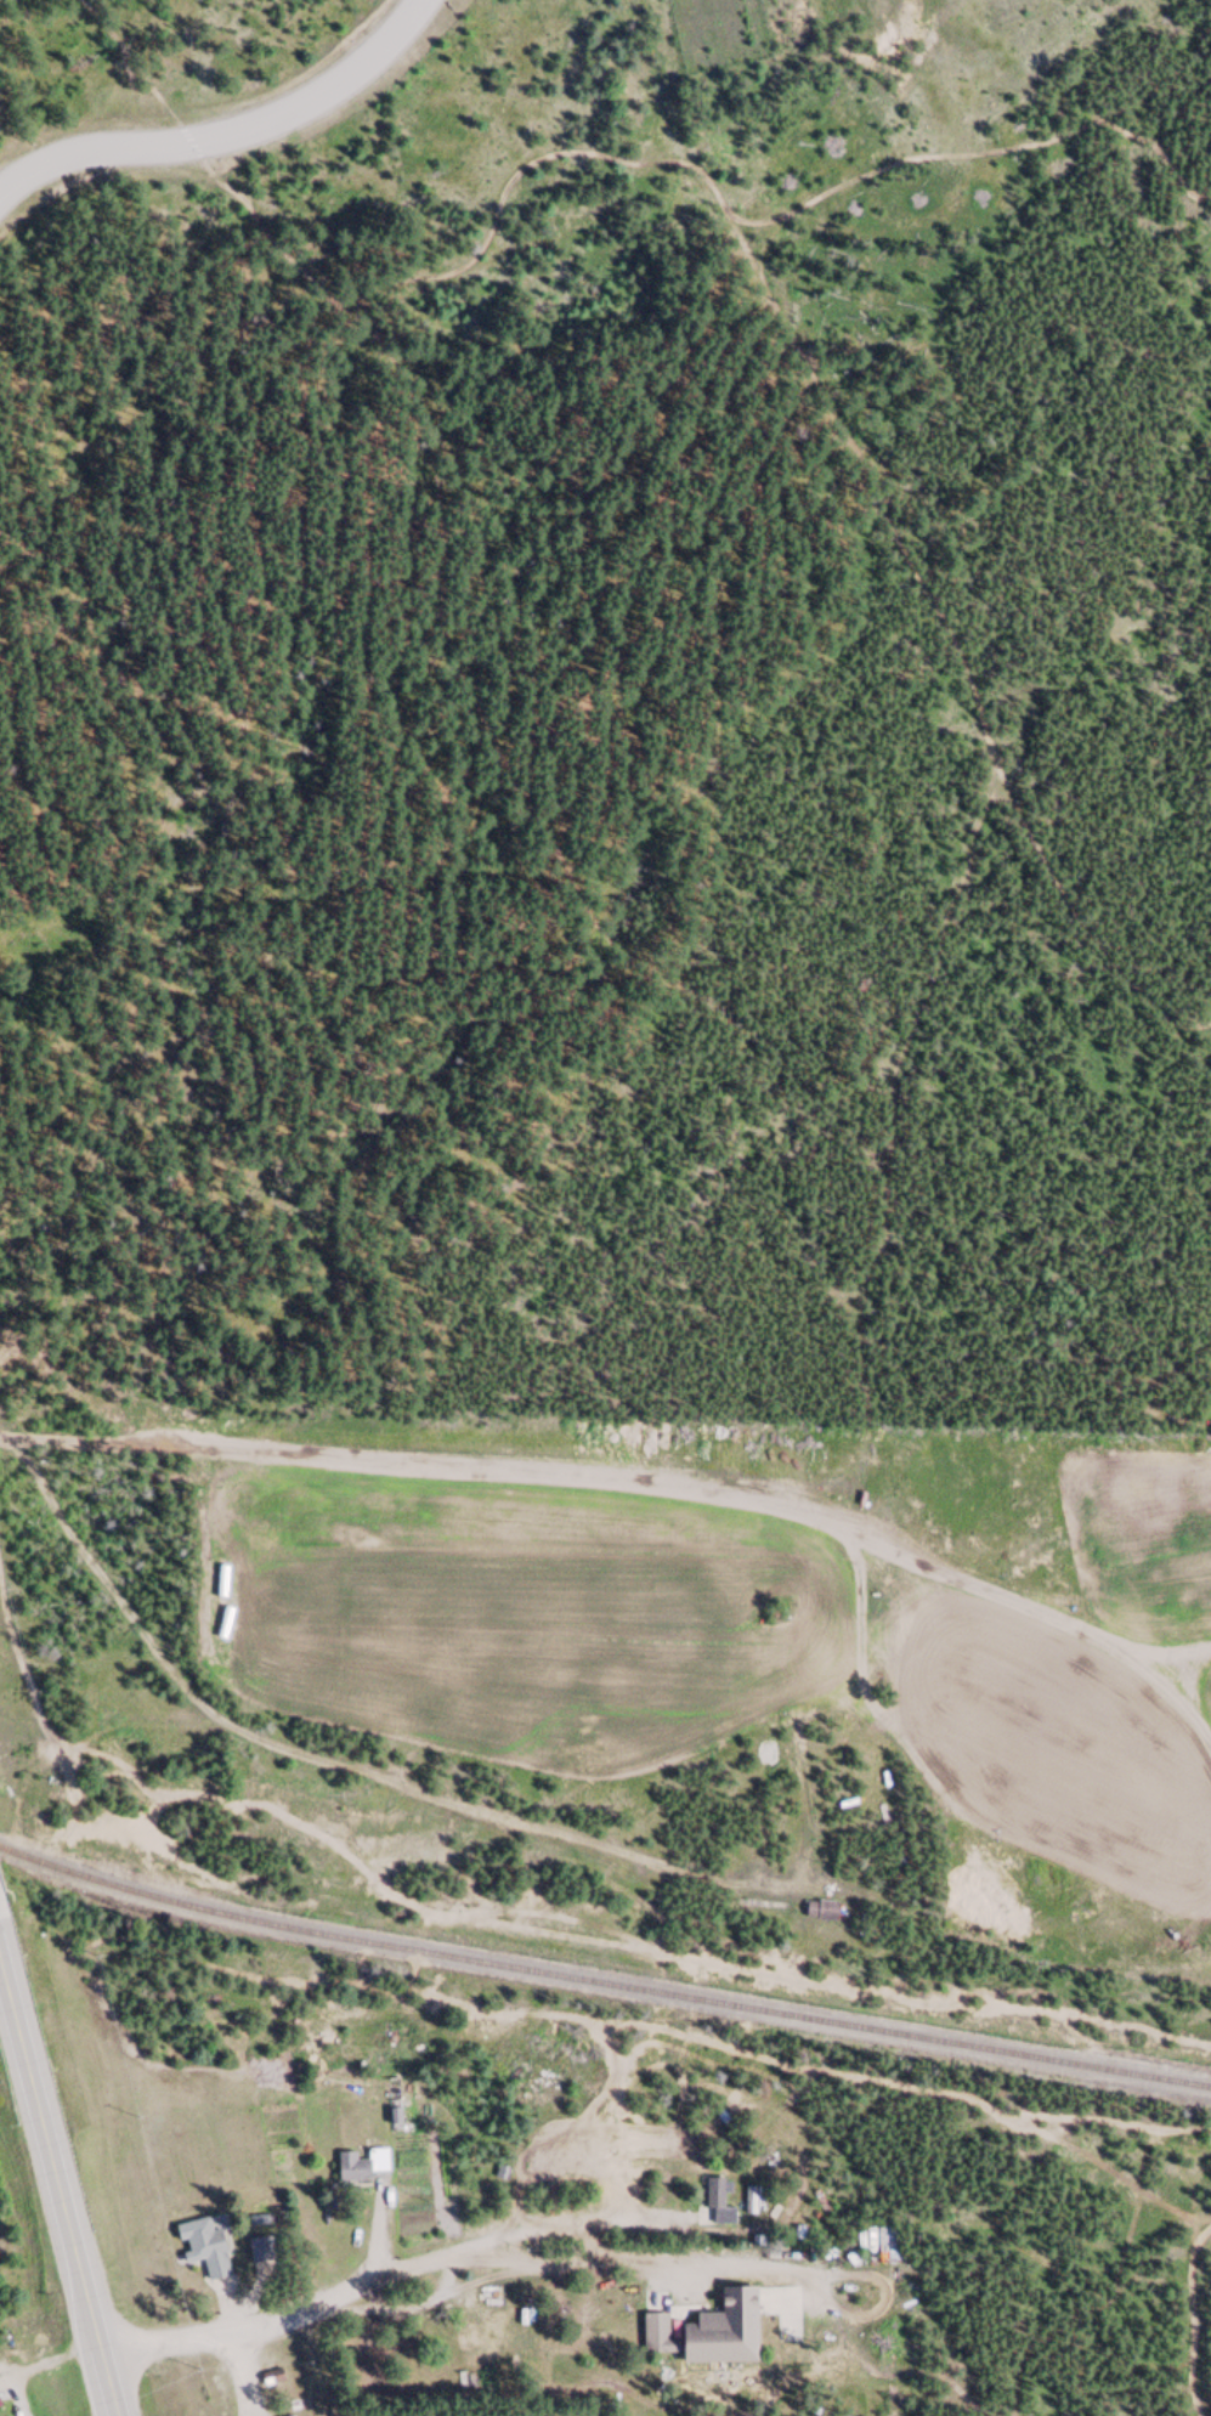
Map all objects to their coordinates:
road: (230, 131)
road: (606, 1473)
road: (542, 1828)
building: (821, 1914)
railway: (601, 1985)
building: (363, 2167)
road: (60, 2189)
building: (715, 2205)
building: (208, 2248)
road: (457, 2251)
building: (482, 2330)
building: (711, 2333)
road: (168, 2341)
road: (55, 2358)

